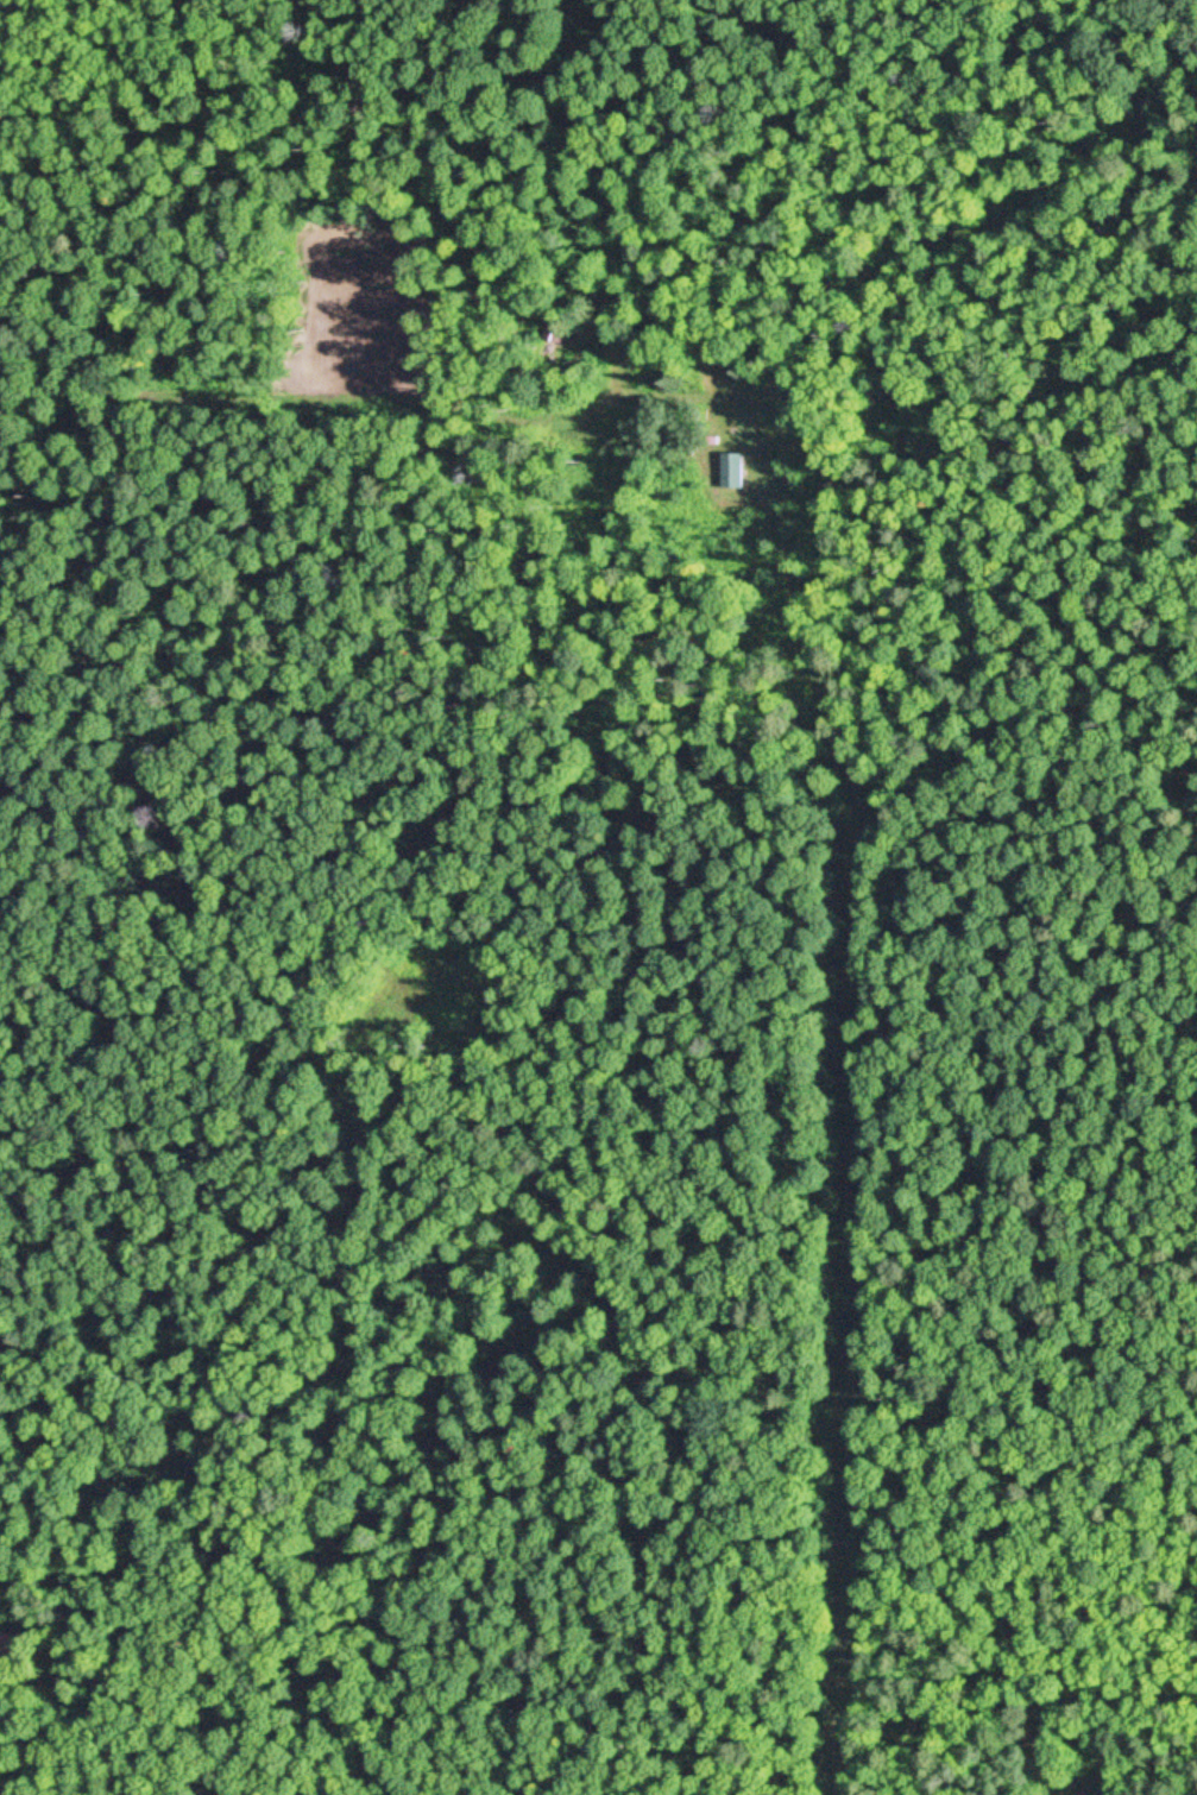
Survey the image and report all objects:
building: (733, 468)
road: (868, 896)
building: (12, 1645)

